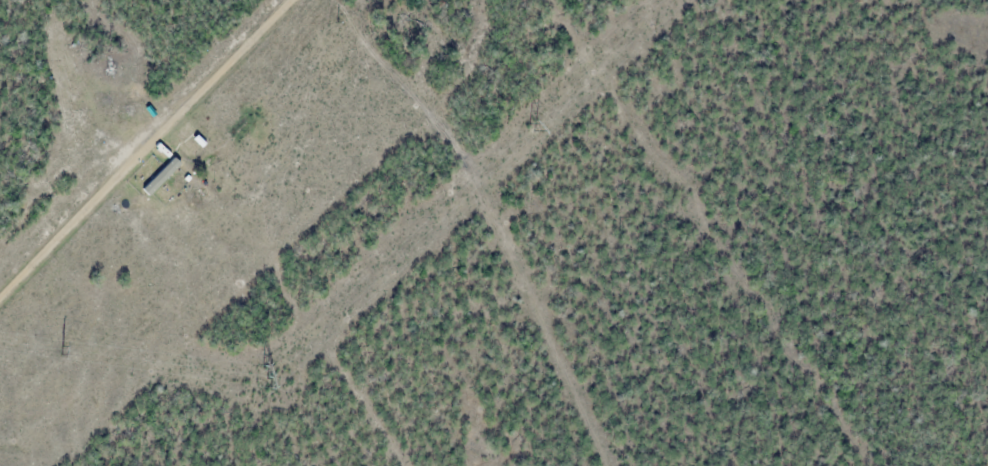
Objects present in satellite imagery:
power tower: (538, 128)
road: (144, 151)
road: (494, 216)
power tower: (61, 349)
power tower: (266, 378)

